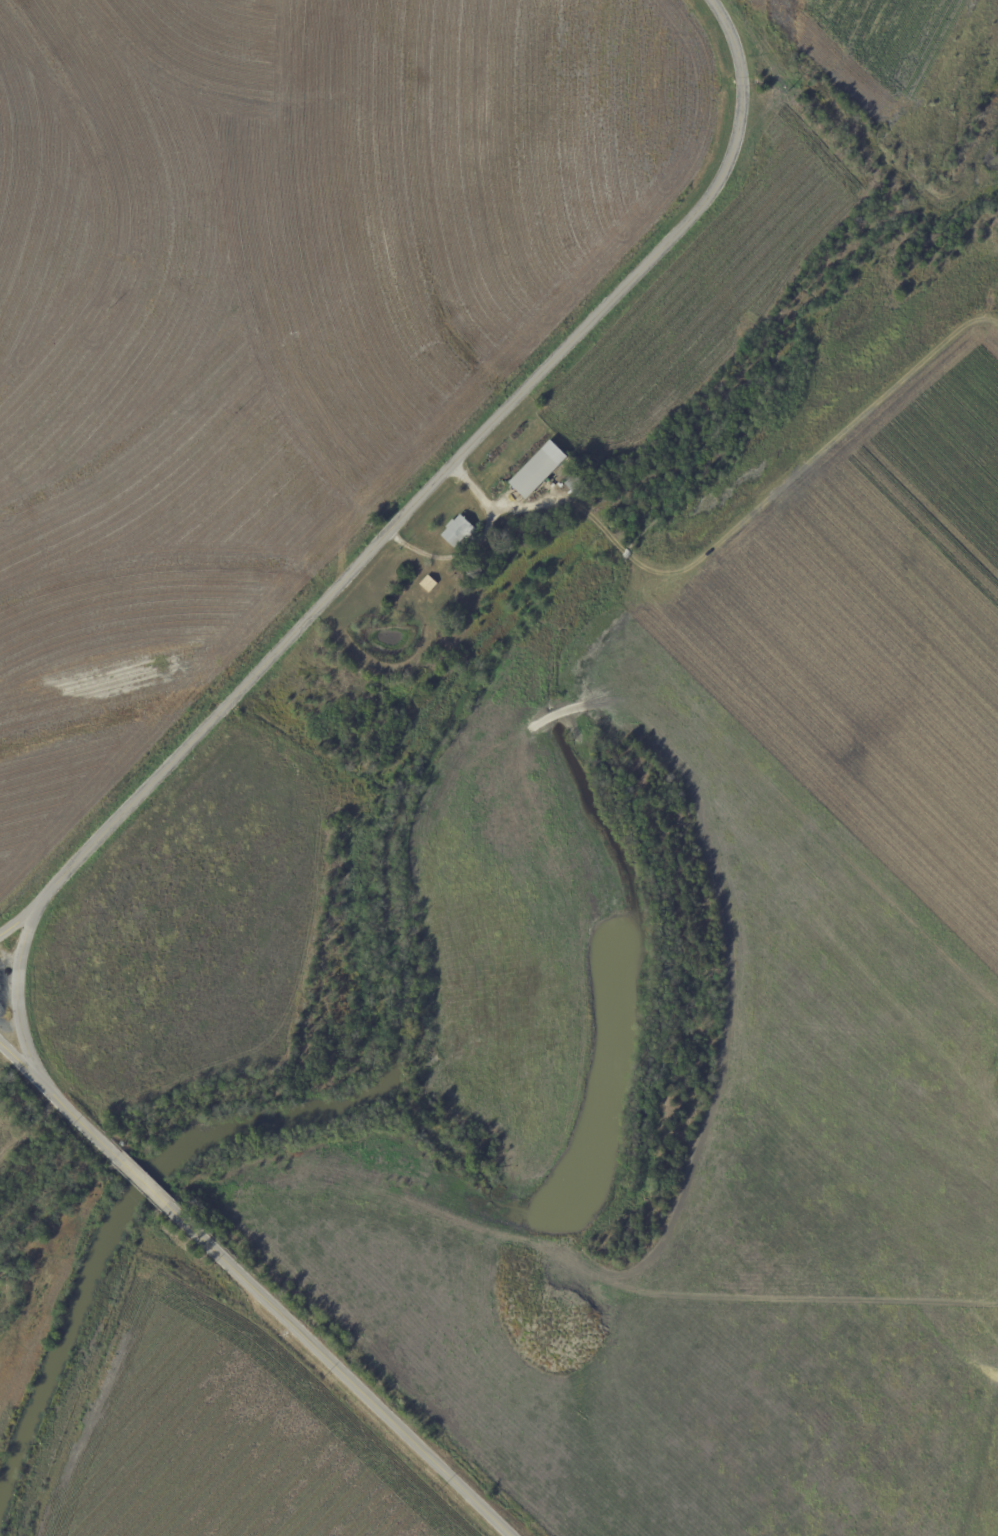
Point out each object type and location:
building: (542, 469)
building: (609, 474)
road: (444, 477)
building: (579, 485)
building: (459, 531)
building: (429, 584)
road: (17, 923)
road: (18, 999)
road: (250, 1291)

